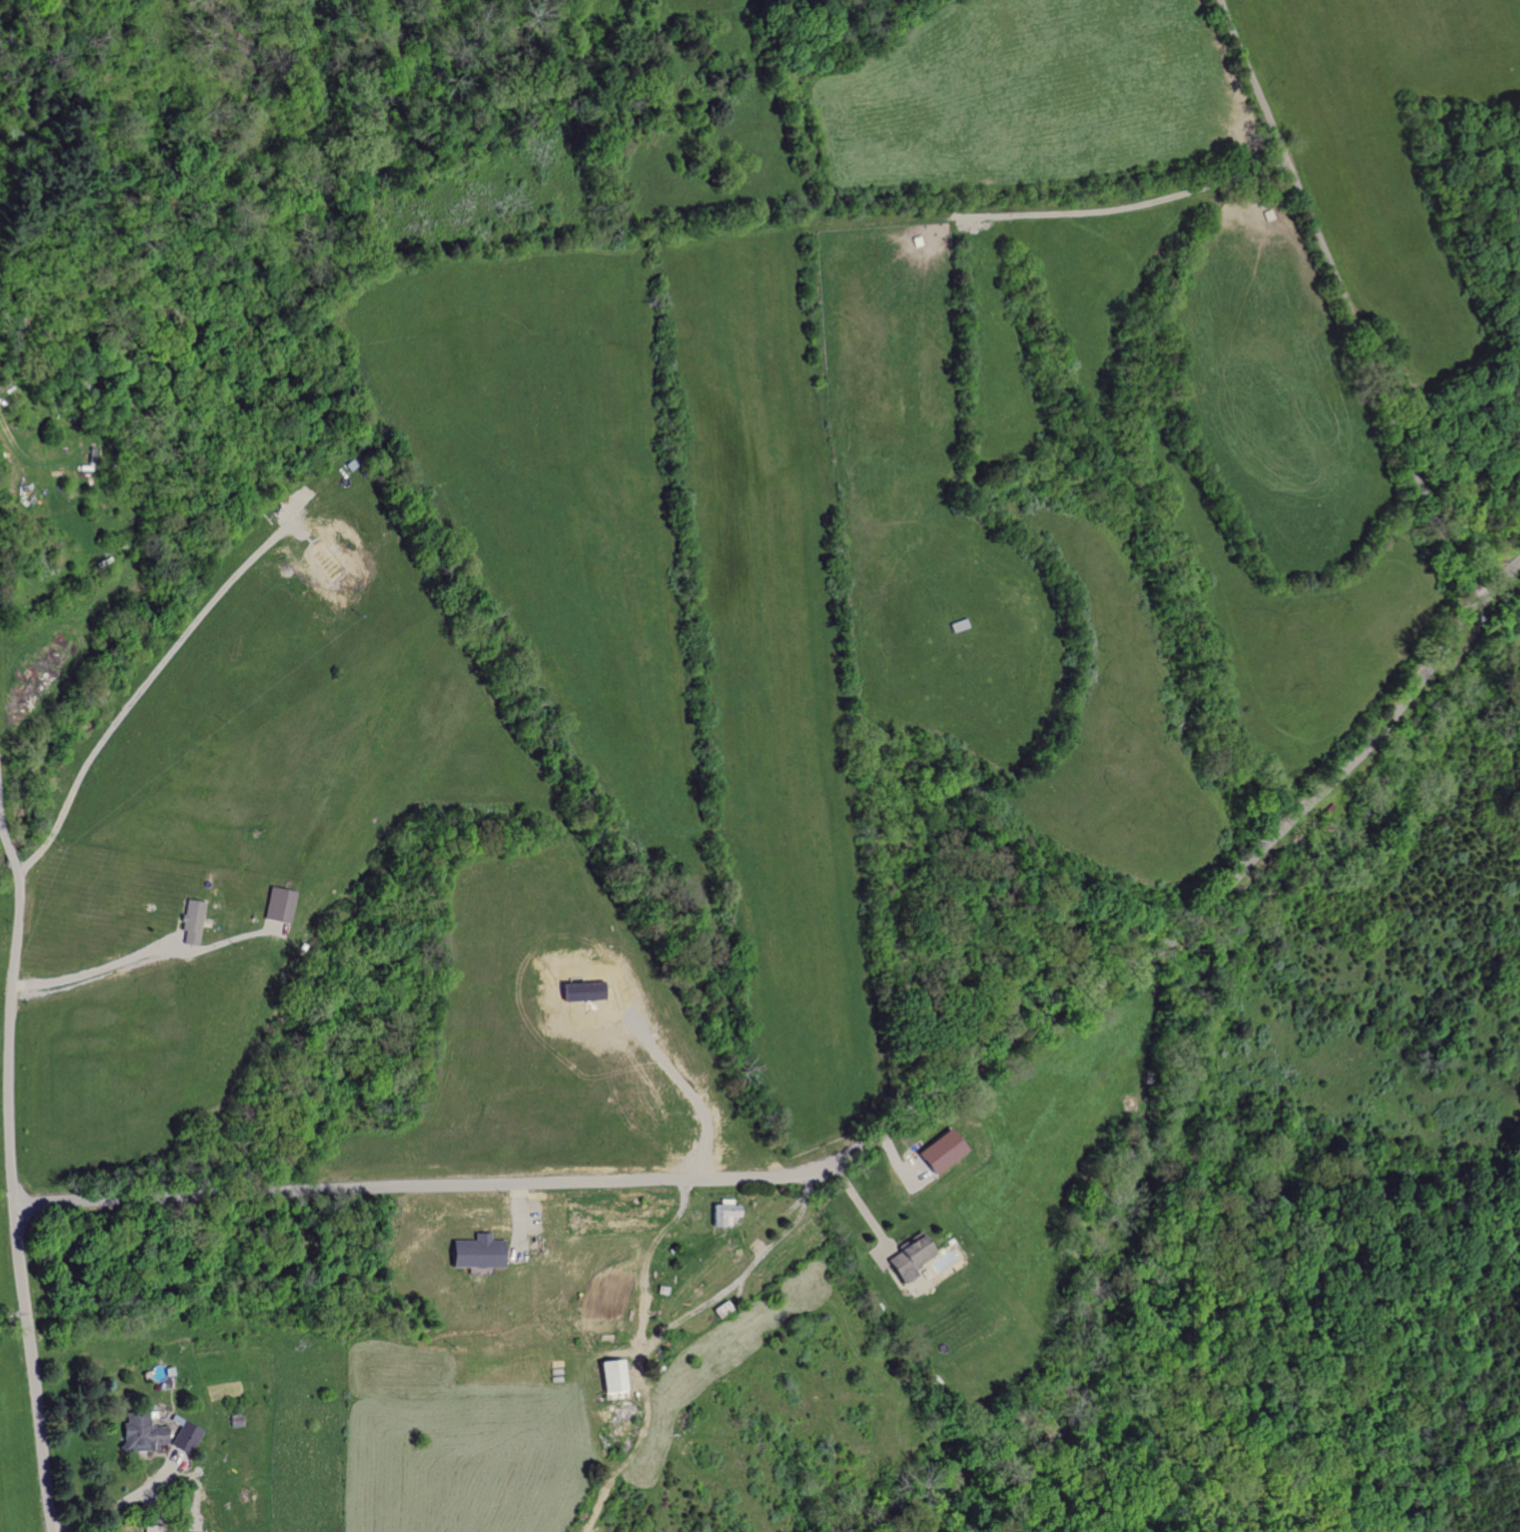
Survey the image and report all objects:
road: (1343, 303)
building: (323, 561)
road: (136, 695)
building: (276, 905)
building: (189, 922)
road: (93, 969)
road: (875, 1136)
building: (938, 1150)
road: (11, 1179)
building: (723, 1212)
building: (474, 1251)
building: (908, 1256)
building: (609, 1374)
building: (234, 1420)
building: (140, 1433)
building: (186, 1438)
road: (112, 1506)
building: (152, 1529)

